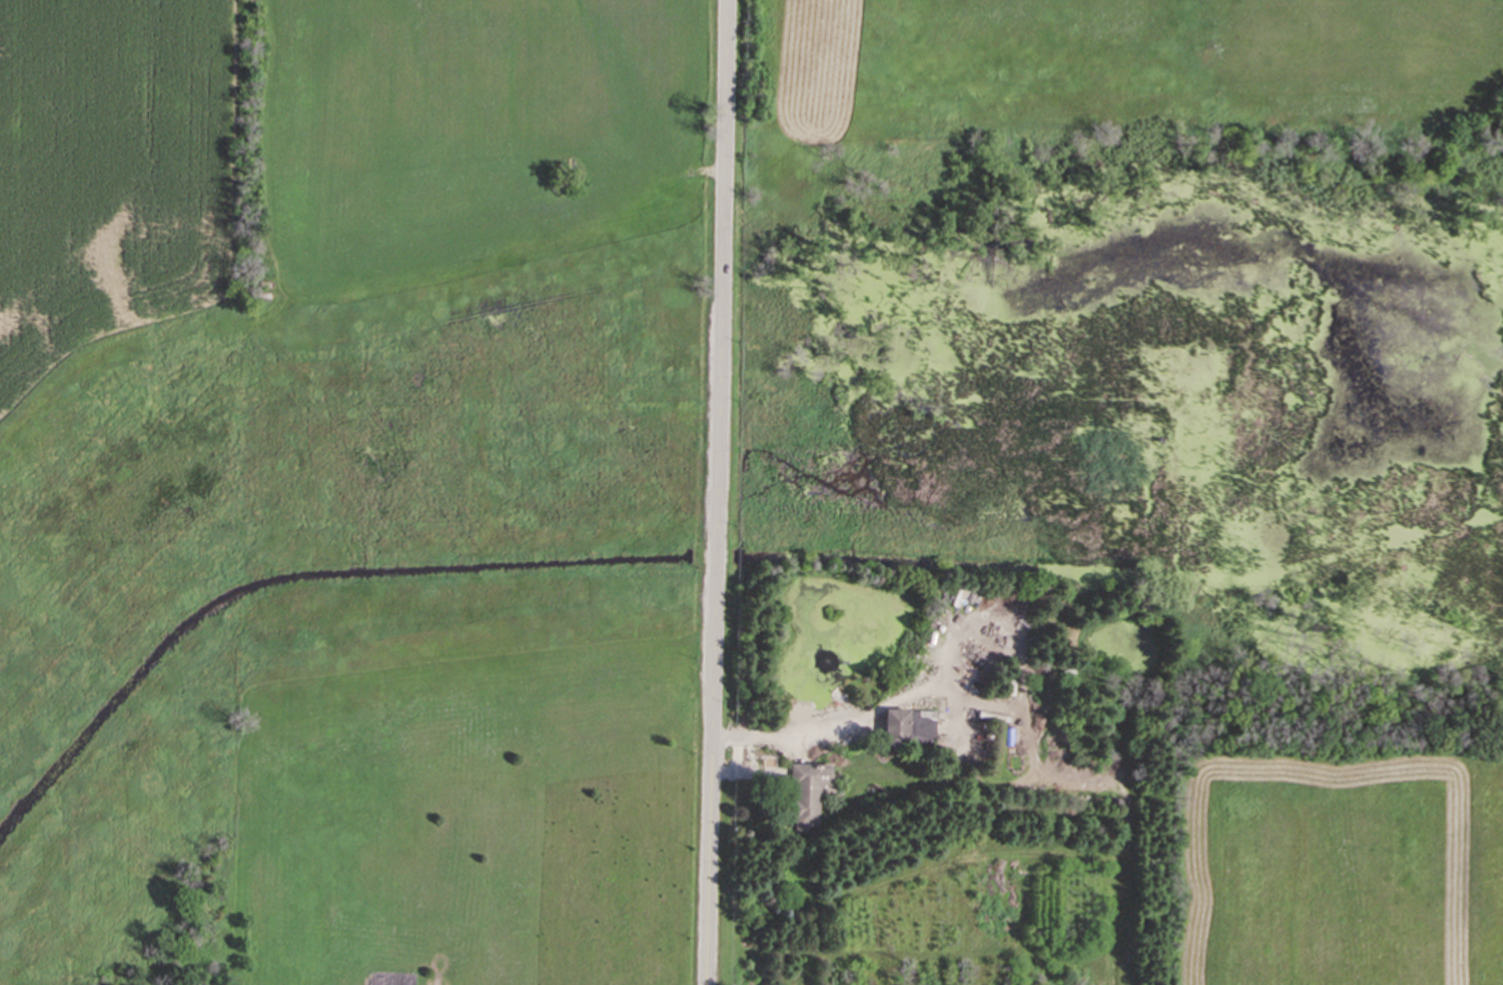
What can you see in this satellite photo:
crop: (107, 172)
quarry: (122, 489)
road: (716, 492)
road: (835, 727)
building: (907, 727)
building: (889, 773)
building: (807, 793)
crop: (433, 806)

